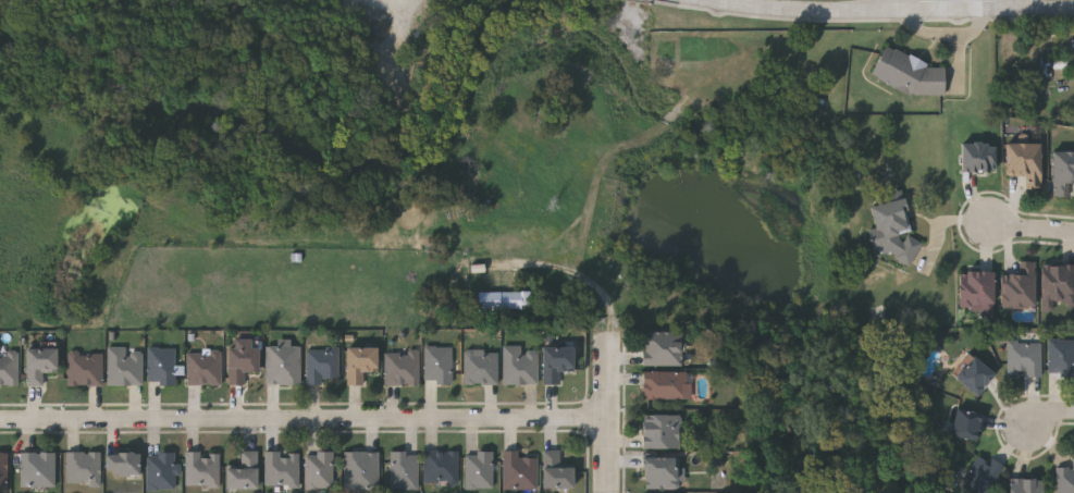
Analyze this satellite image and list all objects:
road: (1017, 3)
road: (1046, 7)
road: (968, 8)
road: (820, 10)
building: (910, 74)
building: (978, 157)
building: (1025, 161)
building: (1062, 171)
building: (891, 230)
road: (1030, 230)
road: (585, 273)
building: (1058, 285)
building: (1019, 286)
building: (977, 291)
building: (505, 301)
building: (662, 346)
building: (1061, 355)
building: (239, 356)
building: (1025, 357)
building: (359, 360)
building: (556, 360)
building: (38, 362)
building: (282, 362)
building: (321, 362)
building: (439, 362)
building: (520, 362)
building: (159, 363)
building: (123, 365)
building: (202, 365)
building: (402, 366)
building: (481, 366)
building: (9, 367)
building: (84, 367)
building: (974, 374)
building: (666, 383)
road: (1054, 417)
road: (613, 420)
building: (965, 422)
road: (306, 426)
building: (661, 430)
building: (122, 461)
building: (83, 466)
building: (441, 466)
building: (200, 467)
building: (281, 467)
building: (37, 468)
building: (319, 468)
building: (404, 468)
building: (480, 468)
building: (160, 469)
building: (242, 469)
building: (361, 469)
building: (518, 469)
building: (555, 469)
building: (3, 471)
building: (662, 471)
building: (979, 473)
building: (1064, 479)
building: (1025, 484)
building: (662, 492)

